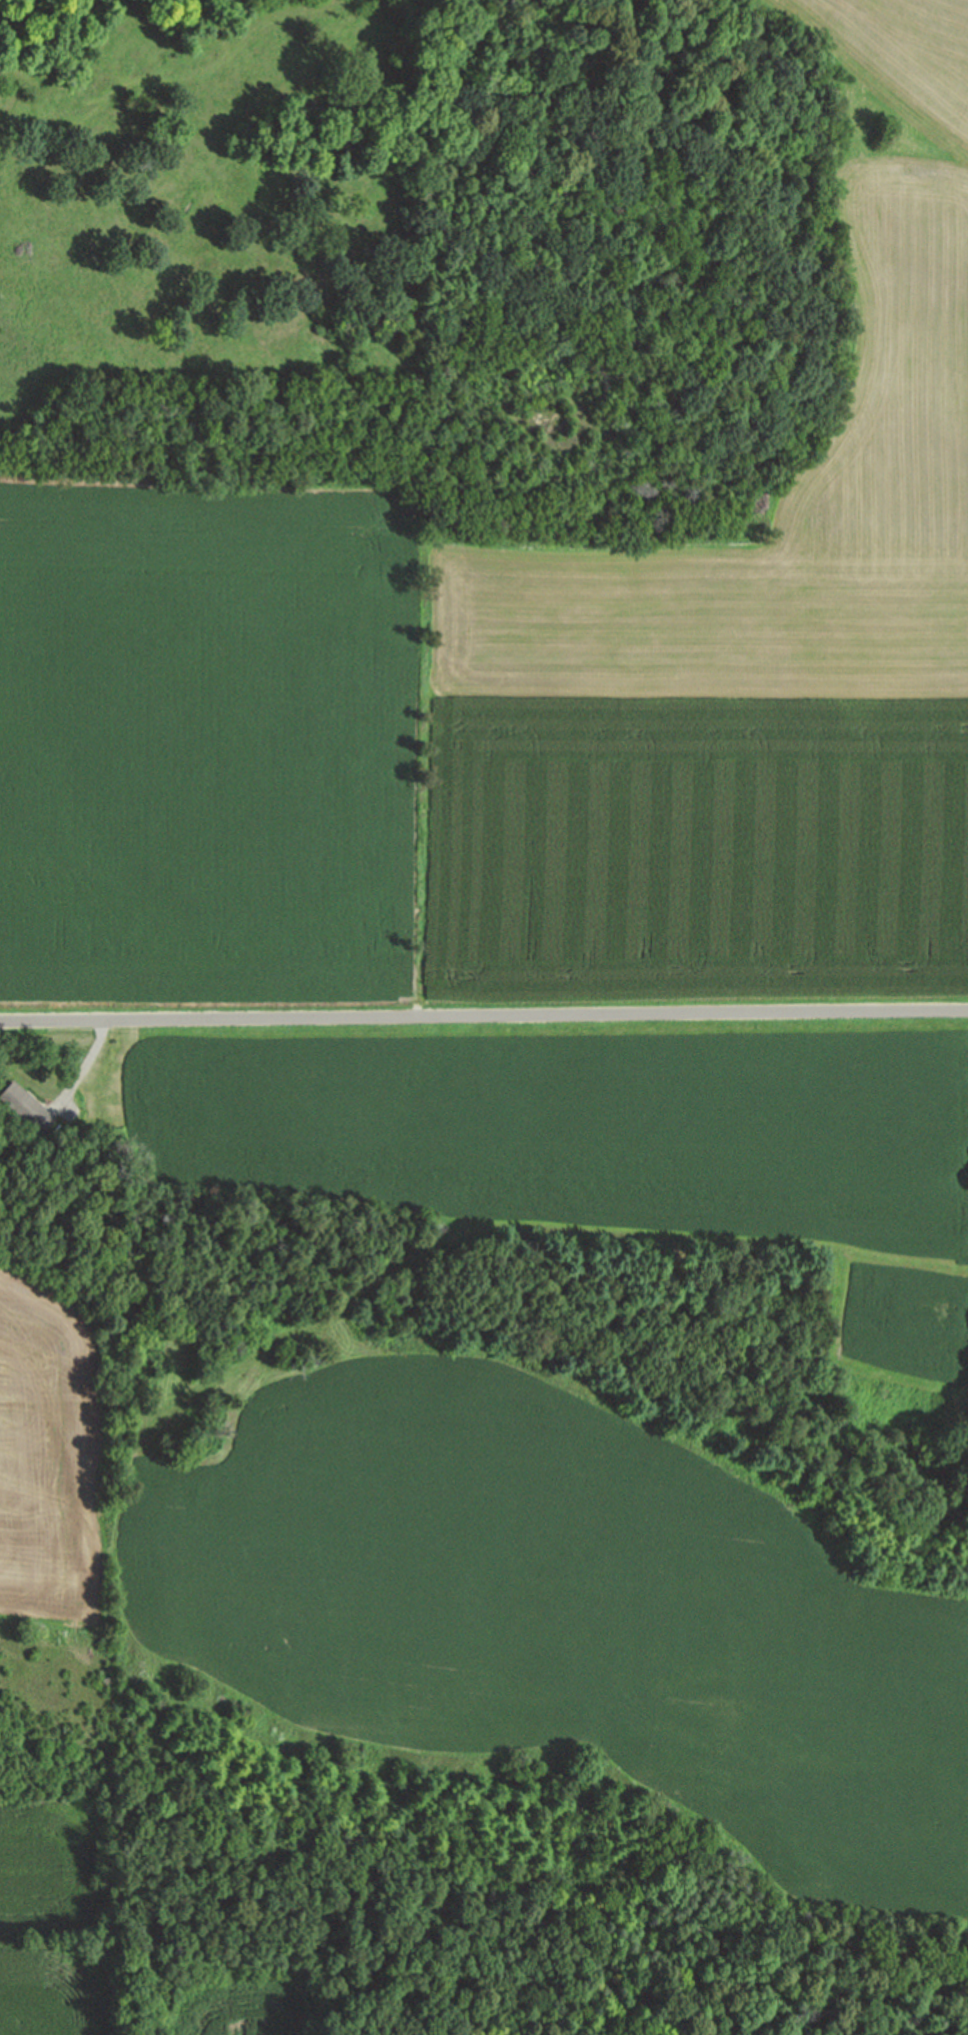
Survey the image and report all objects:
road: (171, 75)
road: (11, 474)
road: (418, 758)
road: (483, 1016)
road: (87, 1066)
building: (30, 1107)
road: (4, 1656)

